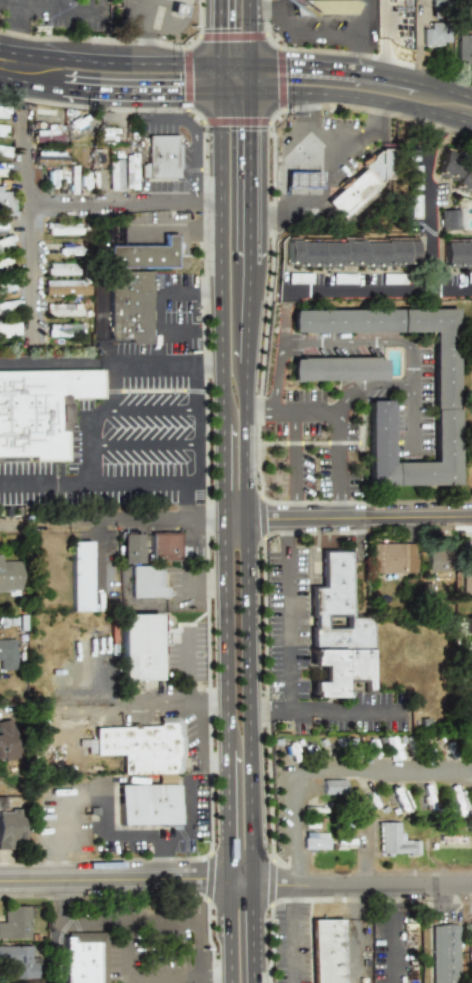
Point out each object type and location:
building: (433, 3)
building: (332, 7)
road: (53, 8)
building: (176, 8)
road: (263, 8)
road: (12, 19)
road: (281, 20)
road: (133, 31)
road: (248, 31)
building: (471, 31)
road: (323, 34)
building: (434, 34)
road: (363, 35)
road: (218, 46)
building: (464, 48)
road: (123, 62)
road: (361, 71)
road: (108, 91)
road: (347, 95)
building: (2, 112)
building: (51, 117)
road: (154, 120)
building: (2, 130)
road: (248, 132)
building: (49, 134)
road: (220, 146)
road: (295, 146)
road: (316, 150)
building: (4, 151)
building: (51, 157)
building: (160, 157)
road: (192, 160)
building: (445, 163)
building: (3, 169)
building: (129, 171)
road: (322, 172)
building: (114, 175)
building: (300, 179)
building: (362, 180)
building: (100, 181)
building: (462, 183)
road: (421, 199)
road: (127, 203)
building: (6, 204)
building: (411, 206)
building: (446, 219)
building: (66, 228)
road: (173, 229)
road: (248, 232)
road: (33, 238)
building: (5, 243)
building: (69, 251)
building: (347, 252)
building: (455, 252)
building: (143, 254)
building: (5, 261)
building: (61, 269)
building: (7, 285)
building: (65, 287)
road: (207, 287)
road: (178, 288)
road: (376, 288)
building: (8, 306)
building: (128, 306)
building: (63, 309)
road: (246, 312)
road: (163, 326)
building: (9, 329)
building: (64, 330)
road: (347, 340)
road: (206, 362)
road: (96, 364)
road: (412, 364)
building: (442, 366)
building: (335, 368)
road: (277, 375)
road: (113, 387)
road: (383, 388)
road: (347, 399)
building: (39, 409)
road: (257, 410)
road: (305, 410)
road: (138, 411)
road: (411, 423)
road: (194, 424)
road: (139, 446)
road: (83, 449)
road: (293, 463)
road: (339, 463)
road: (98, 487)
road: (358, 515)
road: (149, 516)
road: (233, 516)
road: (287, 534)
road: (222, 539)
building: (164, 546)
building: (130, 547)
building: (388, 557)
building: (434, 560)
building: (465, 570)
building: (9, 575)
building: (80, 575)
building: (145, 582)
road: (100, 595)
road: (247, 619)
building: (335, 630)
road: (286, 631)
building: (138, 647)
building: (7, 654)
road: (186, 667)
road: (214, 706)
road: (163, 707)
road: (267, 710)
road: (341, 711)
road: (203, 736)
building: (7, 740)
building: (143, 747)
road: (328, 766)
building: (331, 786)
building: (397, 798)
building: (458, 802)
building: (147, 805)
road: (188, 807)
road: (101, 816)
building: (10, 827)
road: (144, 833)
building: (314, 841)
building: (394, 841)
road: (364, 851)
road: (152, 856)
road: (236, 877)
road: (391, 895)
road: (292, 897)
road: (131, 919)
building: (15, 921)
road: (252, 929)
road: (60, 930)
road: (229, 930)
building: (471, 936)
road: (393, 945)
road: (289, 947)
road: (115, 949)
building: (326, 950)
road: (202, 951)
building: (444, 953)
building: (84, 957)
building: (18, 961)
road: (216, 971)
road: (158, 979)
building: (20, 982)

